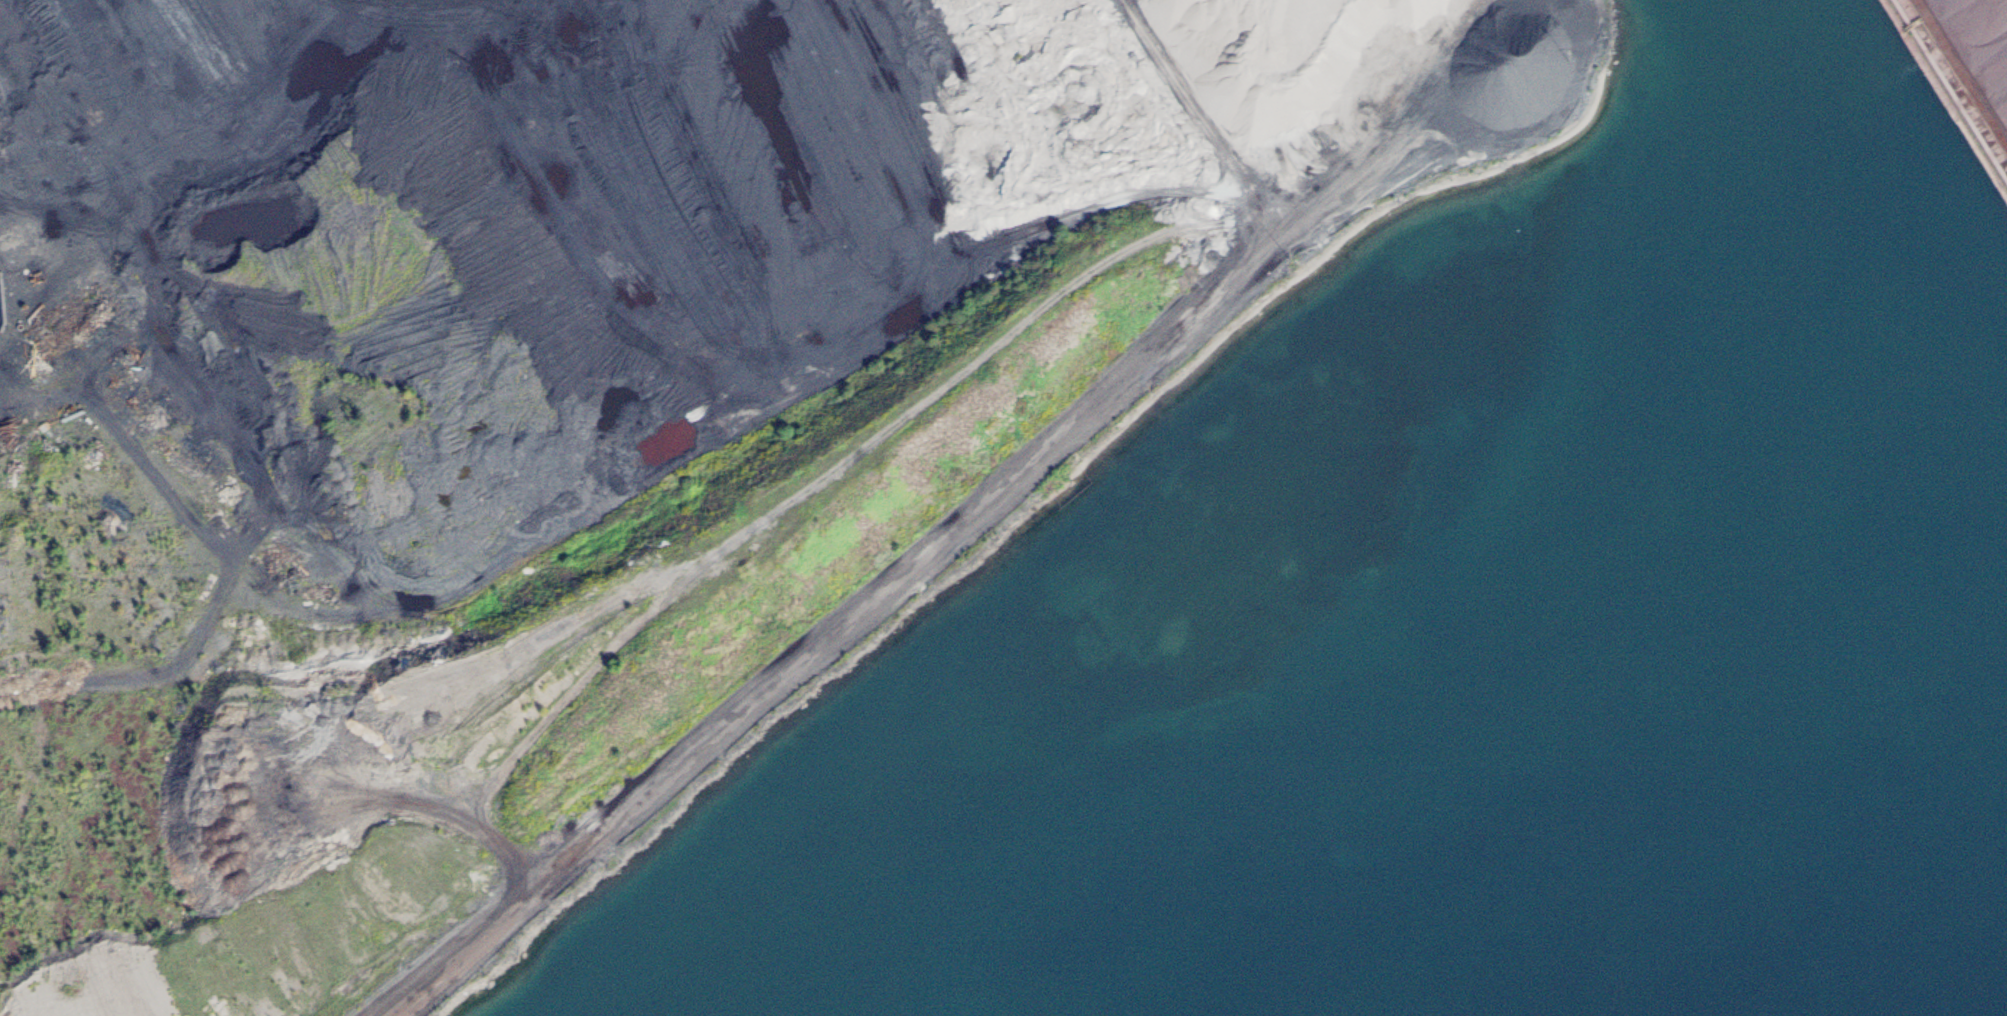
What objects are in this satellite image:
landfill: (477, 252)

